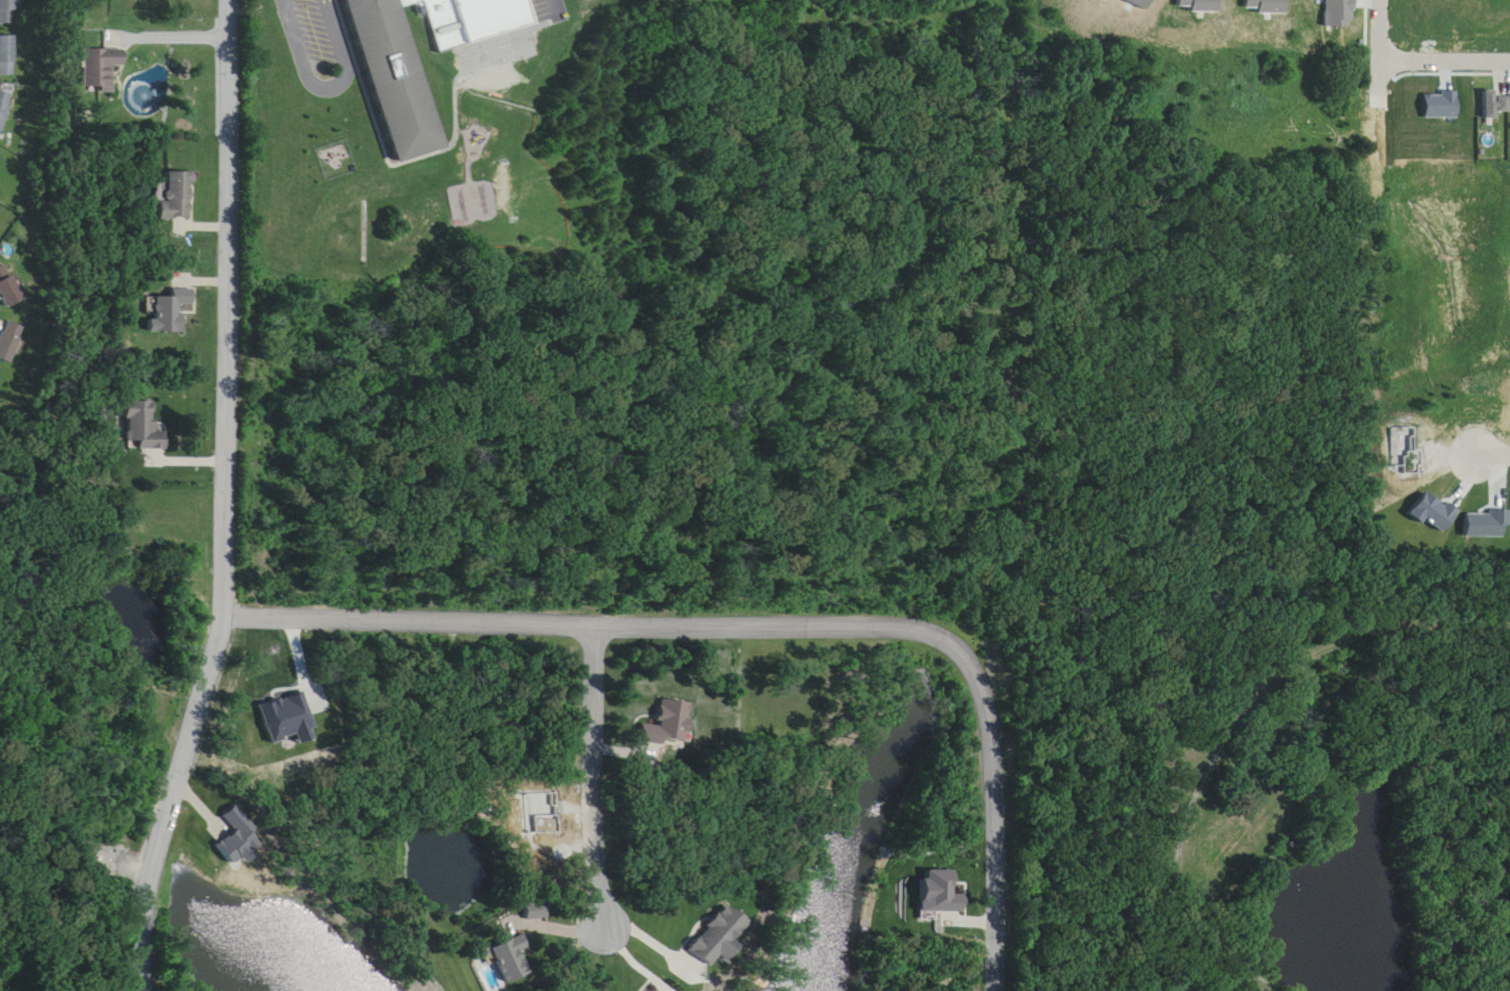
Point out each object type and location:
building: (7, 11)
building: (462, 13)
parking lot: (314, 30)
road: (171, 34)
building: (8, 56)
road: (1377, 59)
road: (1443, 59)
building: (102, 69)
building: (385, 71)
road: (324, 73)
building: (1496, 103)
building: (5, 107)
building: (178, 195)
building: (9, 287)
building: (170, 310)
building: (11, 342)
building: (145, 427)
road: (1491, 454)
road: (227, 501)
road: (761, 626)
road: (1289, 665)
building: (673, 725)
road: (601, 775)
road: (1500, 822)
building: (1484, 896)
building: (723, 935)
building: (515, 959)

